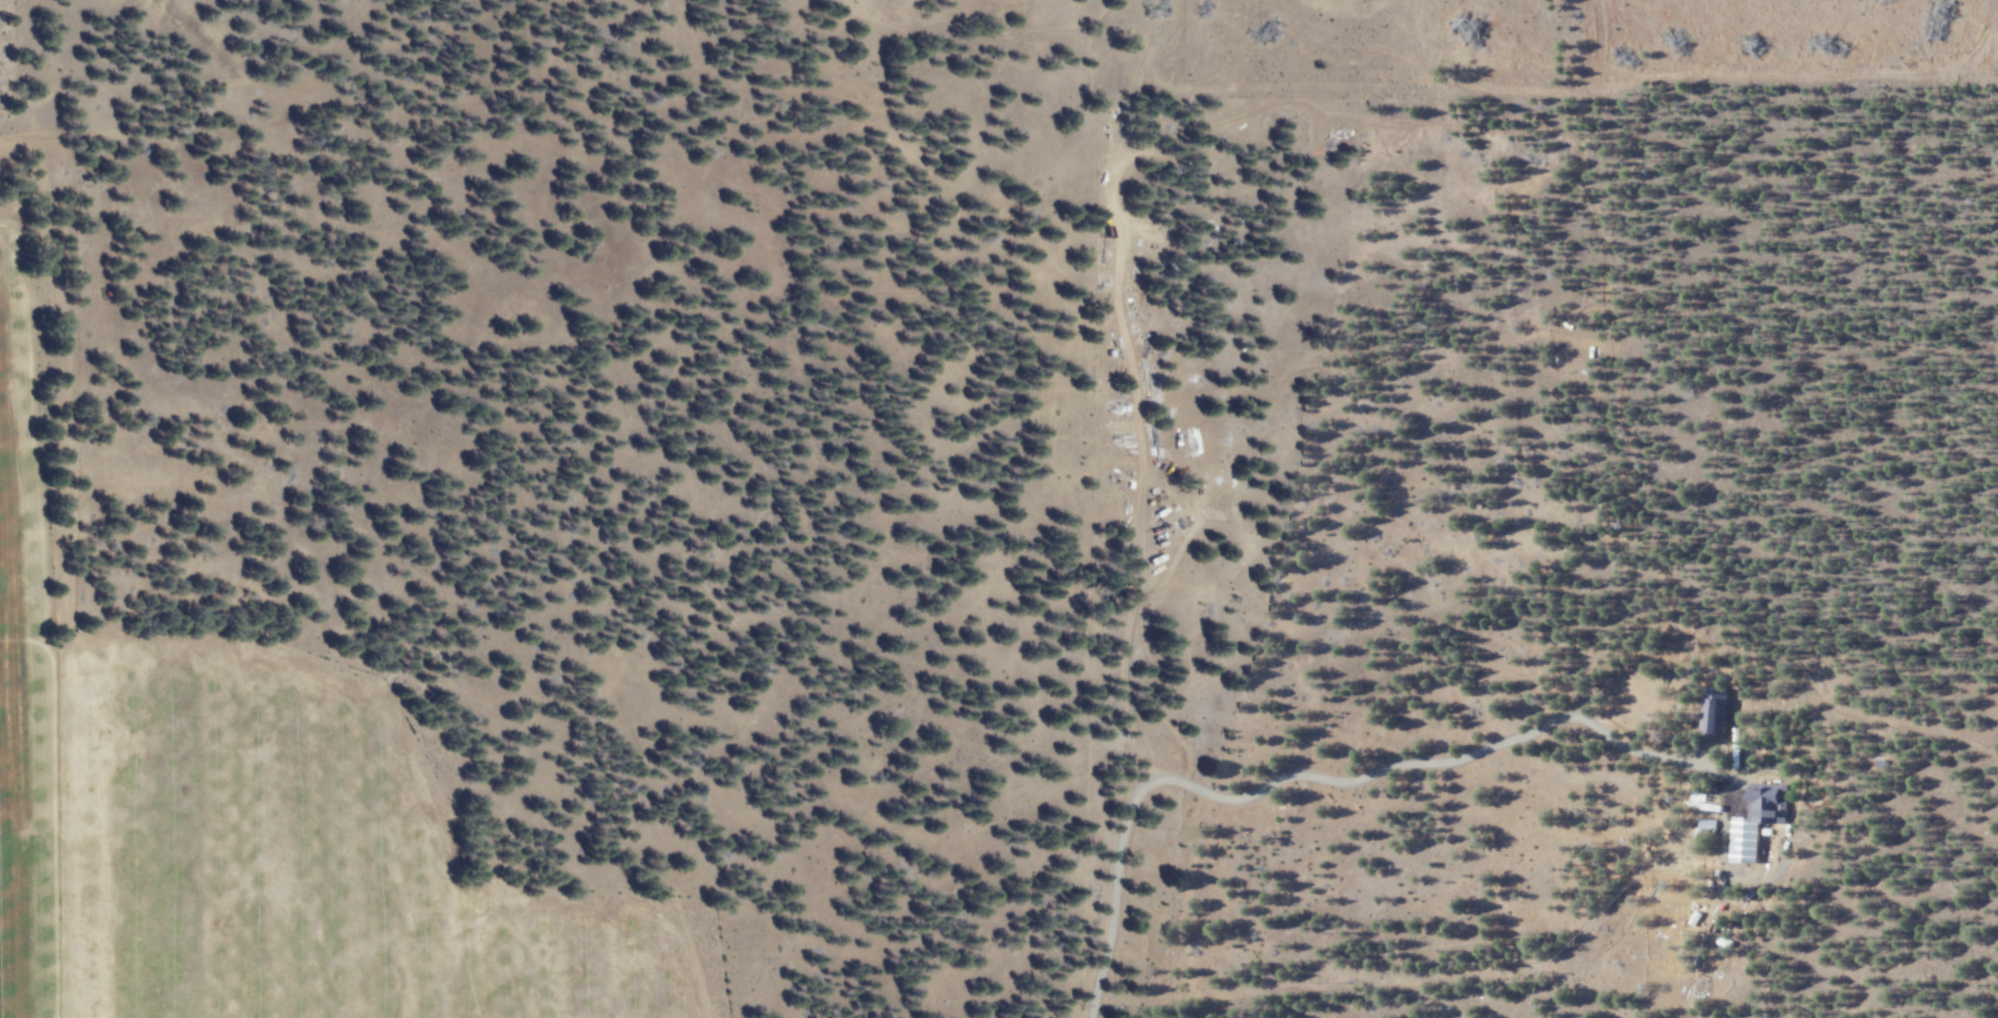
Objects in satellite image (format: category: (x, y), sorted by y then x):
building: (1715, 713)
building: (1757, 822)

